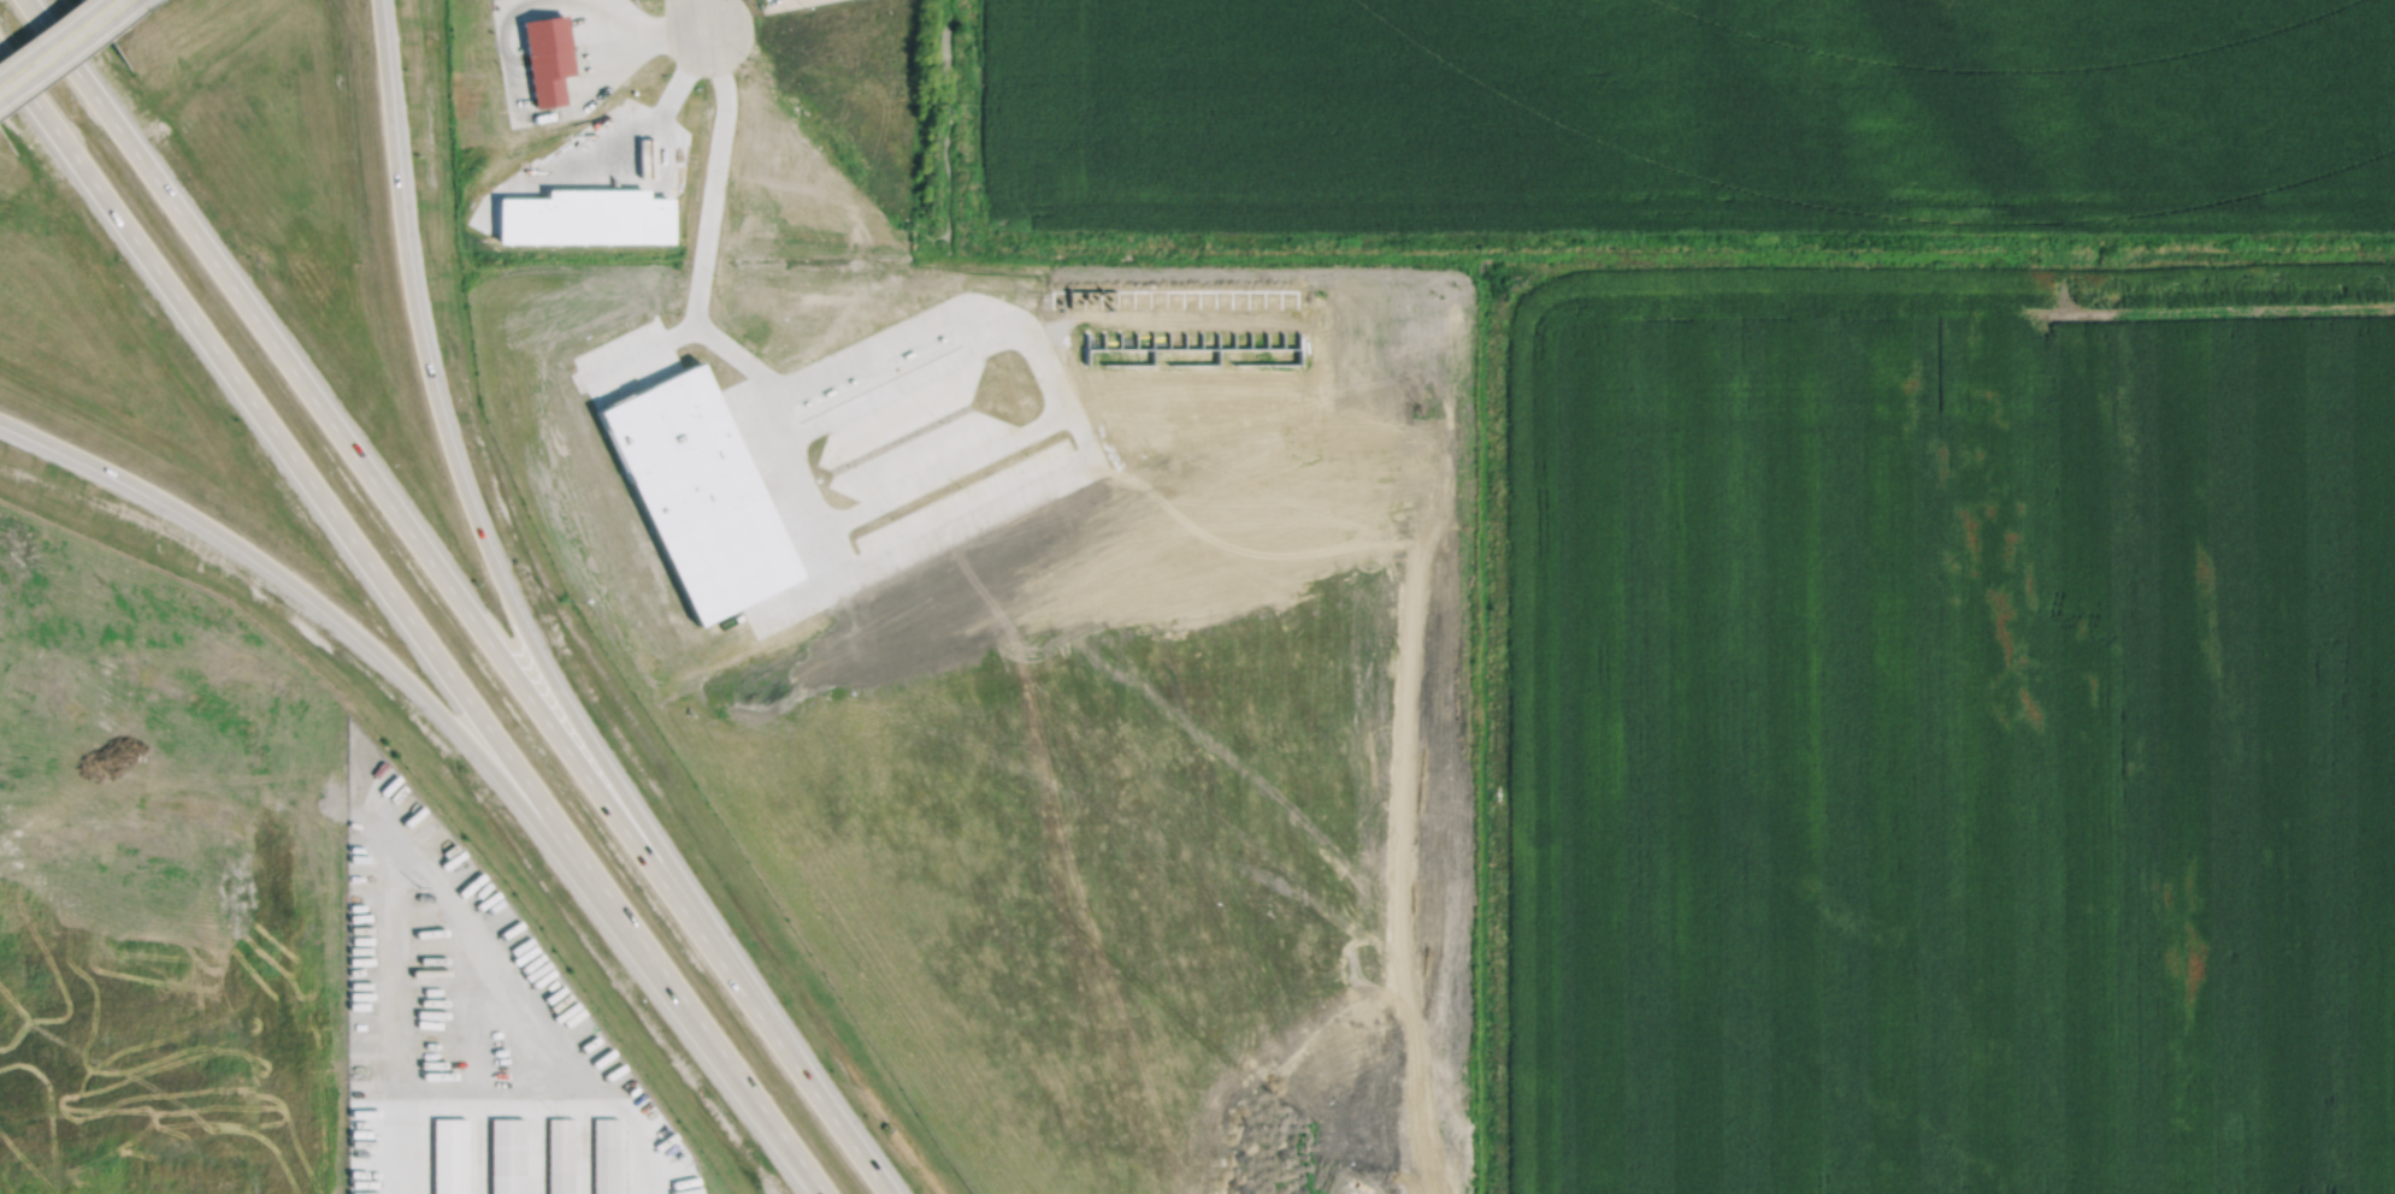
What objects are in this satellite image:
parking lot: (791, 2)
road: (704, 17)
road: (61, 43)
building: (548, 55)
road: (716, 178)
building: (585, 215)
road: (914, 326)
road: (642, 350)
building: (1193, 354)
road: (795, 483)
building: (701, 491)
road: (465, 500)
road: (962, 512)
road: (459, 597)
street lamp: (549, 599)
road: (413, 621)
road: (373, 646)
building: (449, 1155)
building: (506, 1155)
building: (560, 1155)
building: (606, 1155)

